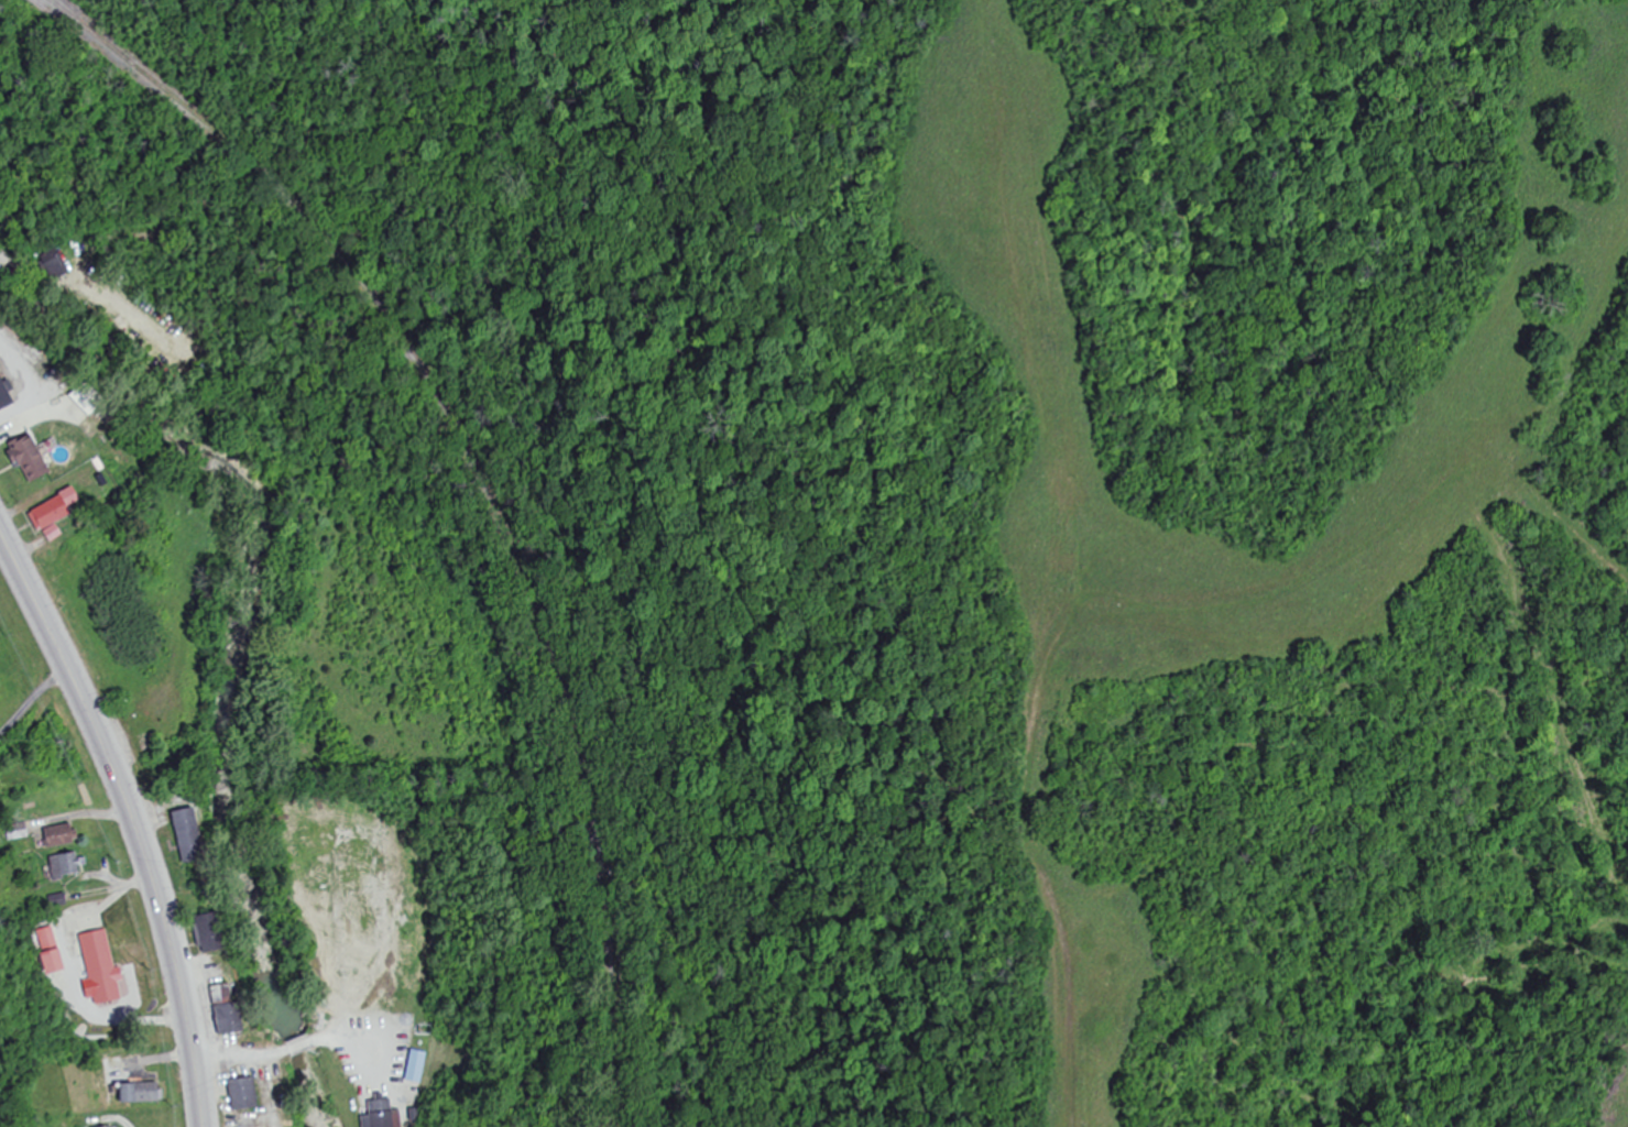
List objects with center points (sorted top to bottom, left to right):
building: (7, 393)
railway: (498, 477)
road: (132, 818)
road: (356, 1033)
road: (301, 1046)
road: (241, 1055)

